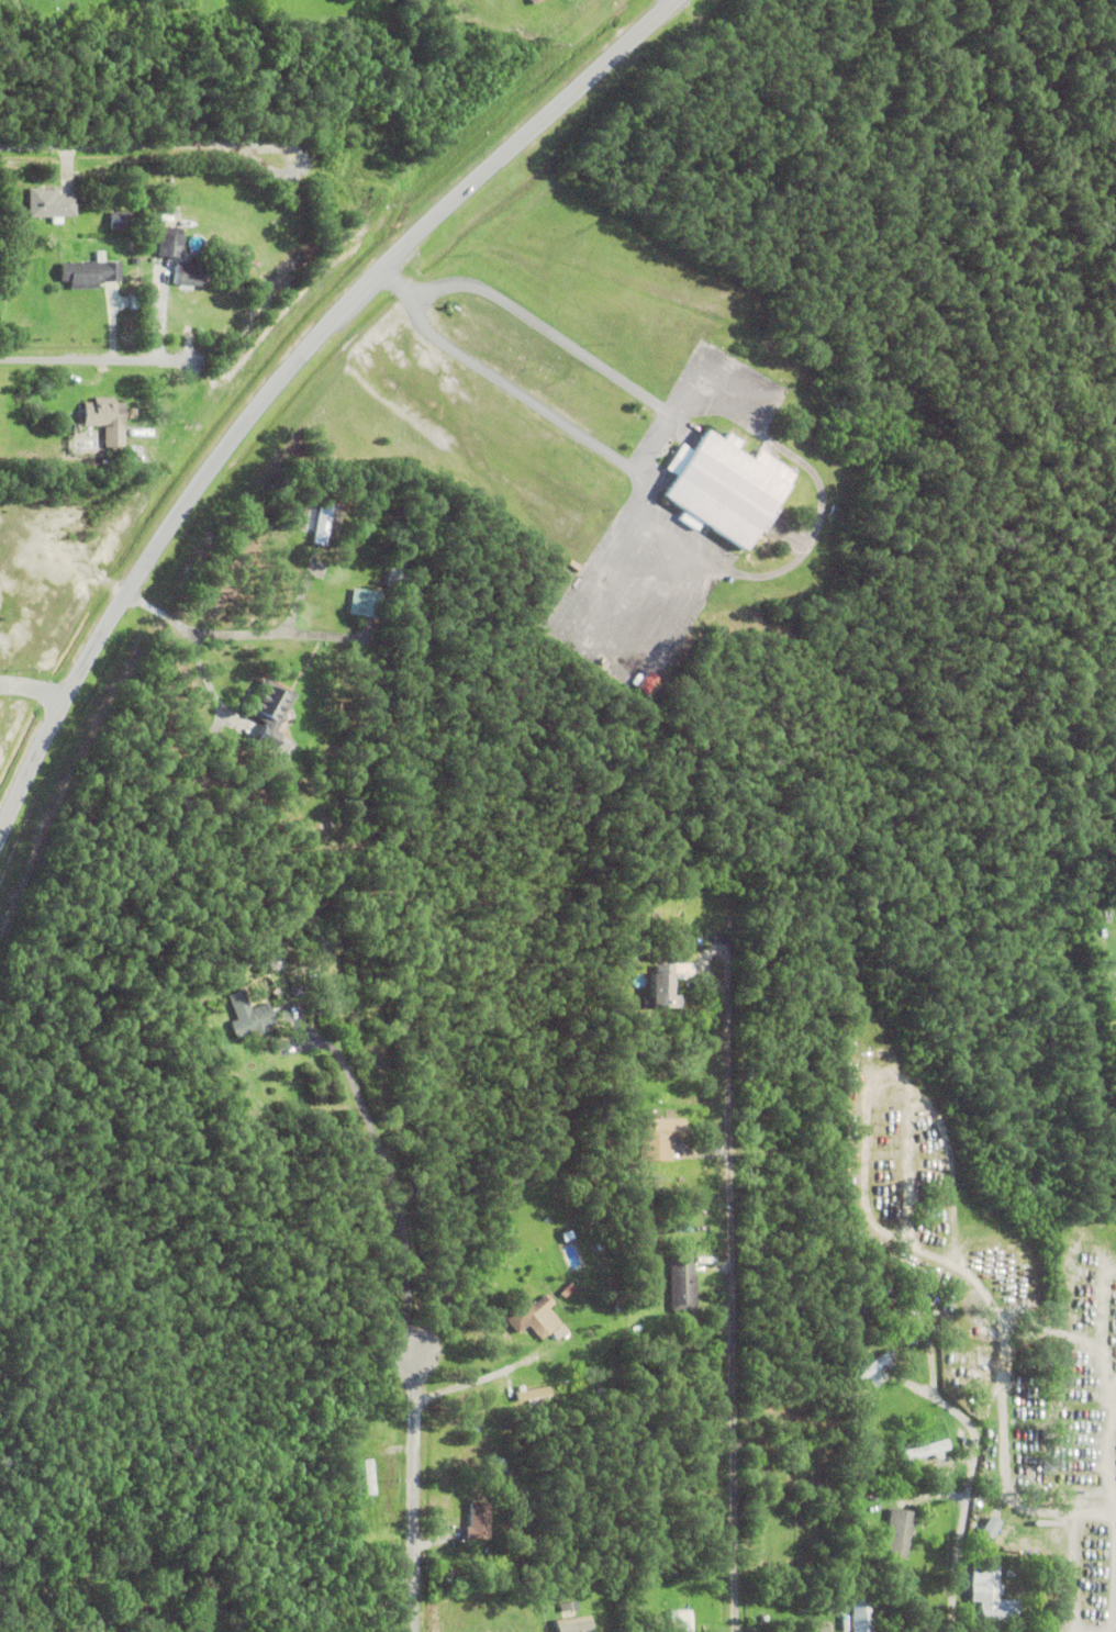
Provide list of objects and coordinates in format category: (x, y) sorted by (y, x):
building: (127, 7)
road: (150, 145)
building: (51, 203)
building: (120, 221)
building: (170, 242)
building: (189, 271)
building: (89, 272)
road: (395, 287)
road: (550, 337)
road: (102, 360)
road: (283, 380)
road: (512, 396)
building: (107, 418)
road: (654, 448)
building: (725, 485)
building: (322, 523)
building: (394, 574)
building: (569, 589)
building: (365, 603)
road: (233, 634)
road: (617, 652)
road: (204, 679)
road: (36, 686)
building: (269, 704)
building: (267, 738)
building: (695, 913)
building: (274, 964)
building: (657, 987)
building: (295, 992)
building: (248, 1017)
building: (782, 1126)
building: (661, 1140)
road: (393, 1196)
building: (643, 1220)
building: (568, 1237)
building: (702, 1251)
building: (704, 1261)
building: (681, 1286)
building: (567, 1292)
building: (905, 1295)
building: (618, 1301)
building: (532, 1318)
road: (732, 1319)
building: (558, 1332)
building: (963, 1334)
building: (639, 1349)
building: (877, 1366)
road: (473, 1386)
building: (533, 1401)
building: (927, 1453)
building: (368, 1478)
road: (414, 1486)
building: (891, 1493)
building: (477, 1523)
building: (986, 1534)
building: (897, 1535)
building: (1009, 1575)
building: (991, 1601)
building: (567, 1608)
building: (861, 1617)
building: (679, 1622)
building: (572, 1625)
building: (818, 1630)

